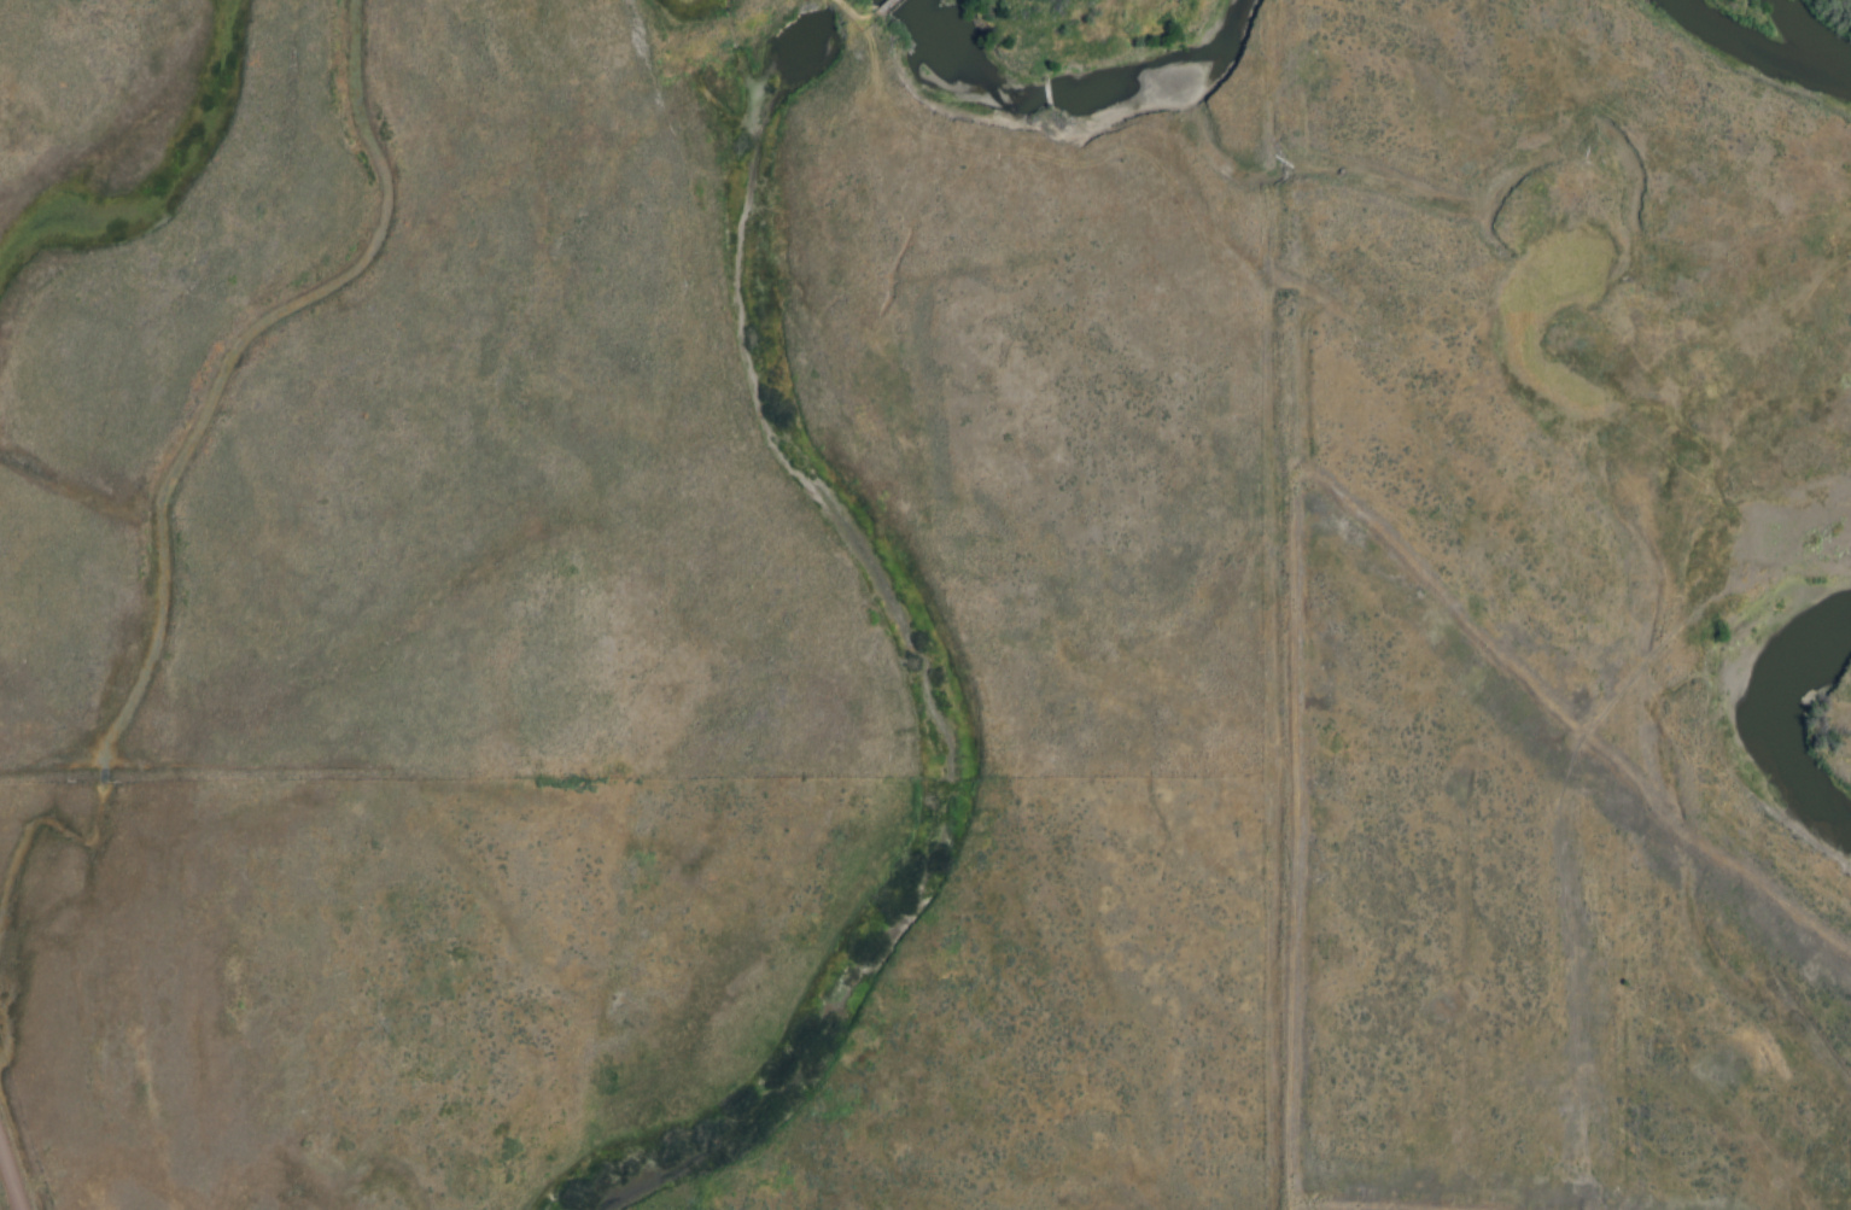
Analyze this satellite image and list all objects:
road: (897, 8)
road: (865, 12)
river: (1764, 42)
river: (1090, 127)
road: (1062, 179)
river: (1795, 694)
road: (14, 1164)

